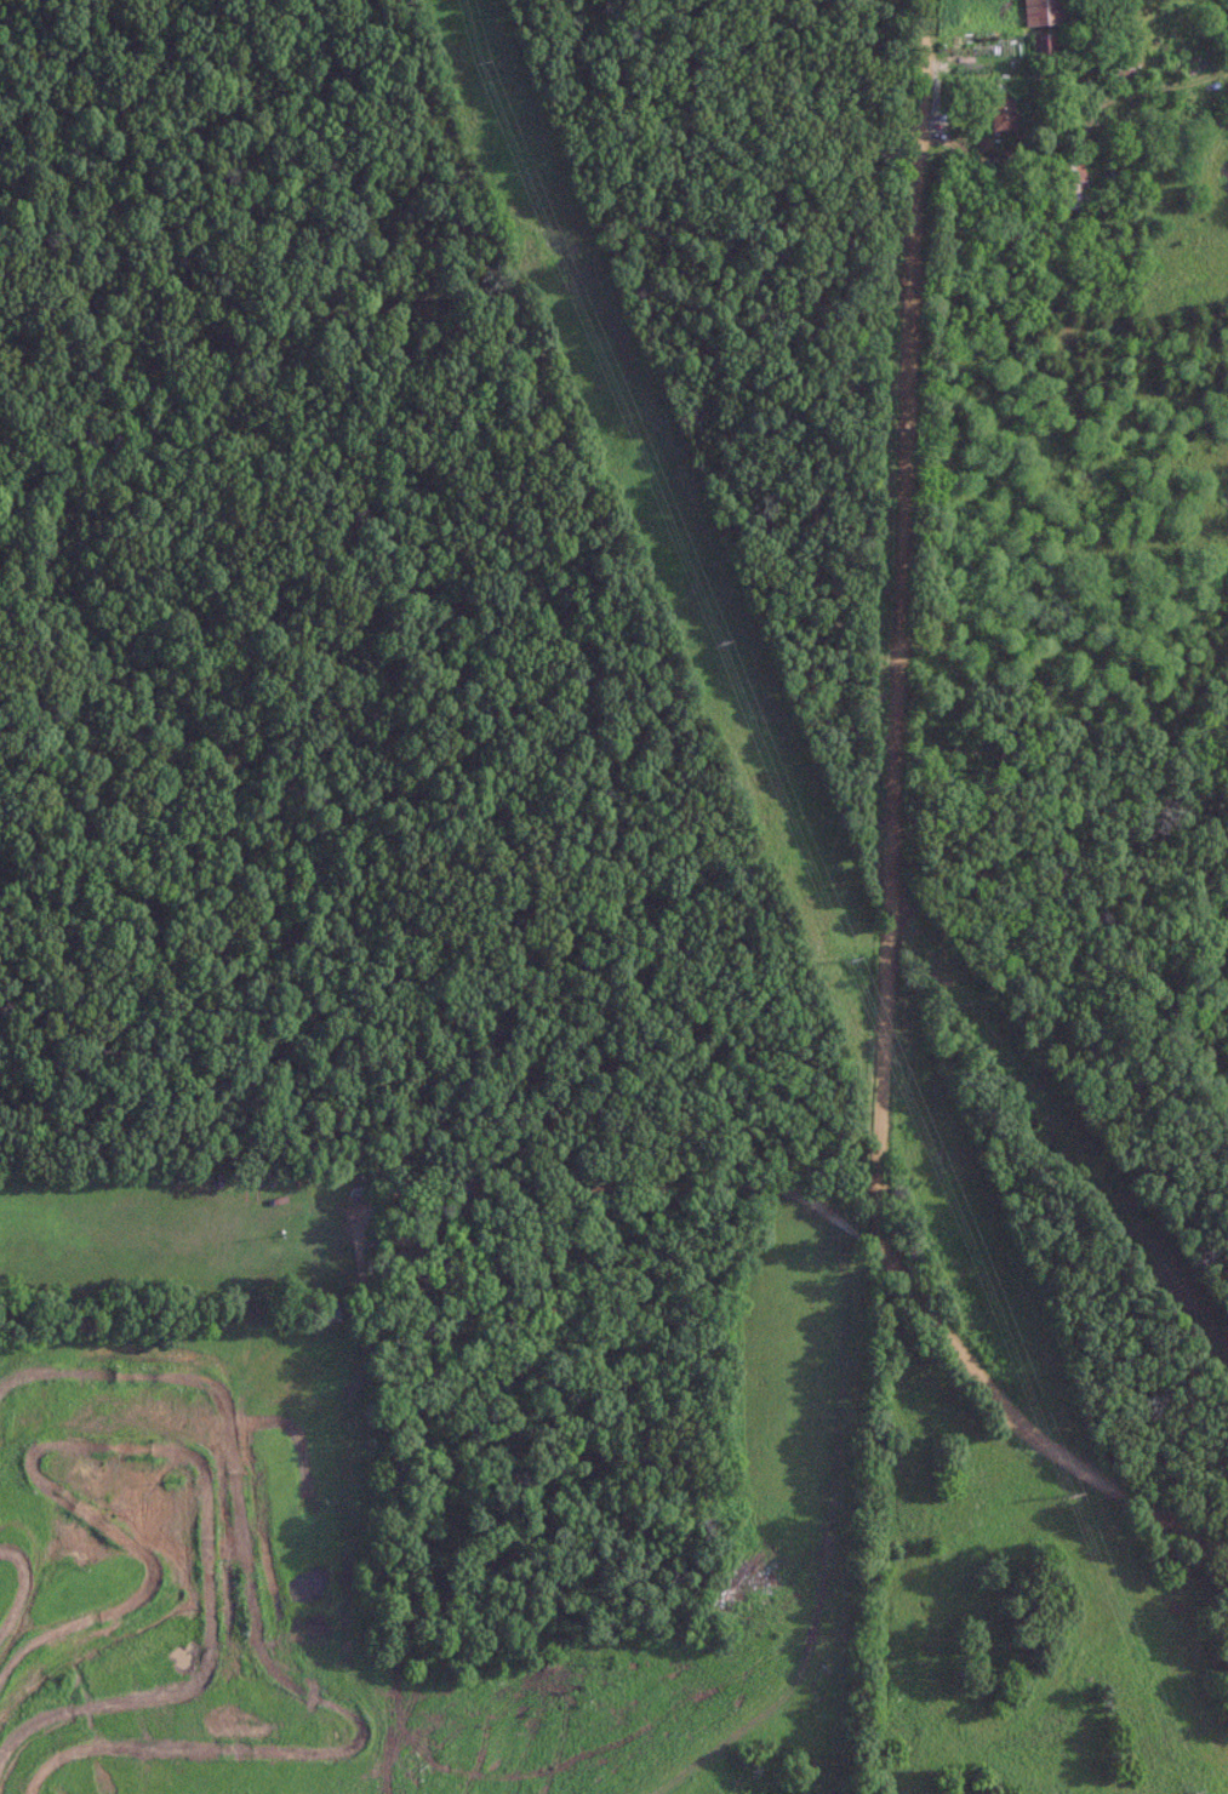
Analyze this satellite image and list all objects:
building: (1043, 11)
building: (1041, 45)
power tower: (468, 63)
building: (1116, 72)
building: (998, 113)
building: (1069, 179)
power tower: (702, 644)
road: (897, 855)
power tower: (840, 962)
building: (327, 1309)
power tower: (1055, 1495)
power tower: (1186, 1789)

